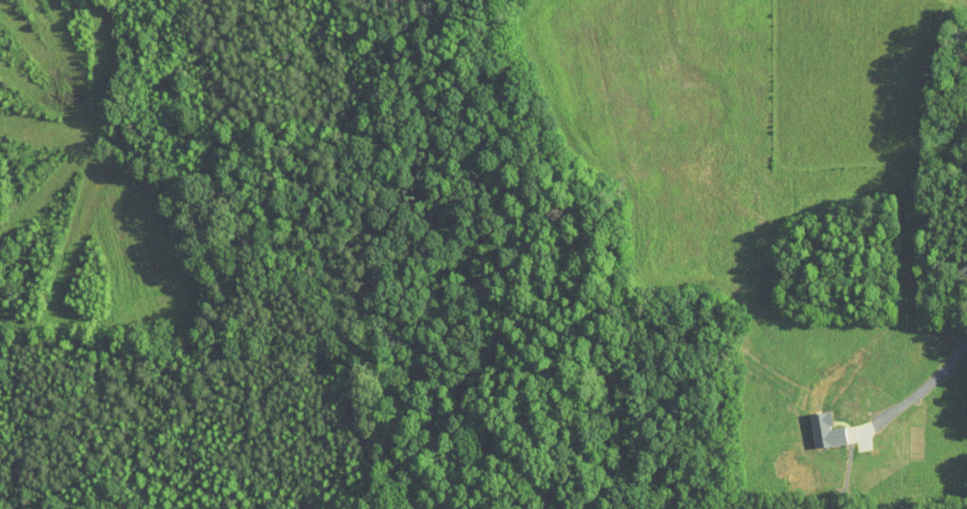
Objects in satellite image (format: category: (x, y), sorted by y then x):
road: (924, 387)
building: (813, 423)

